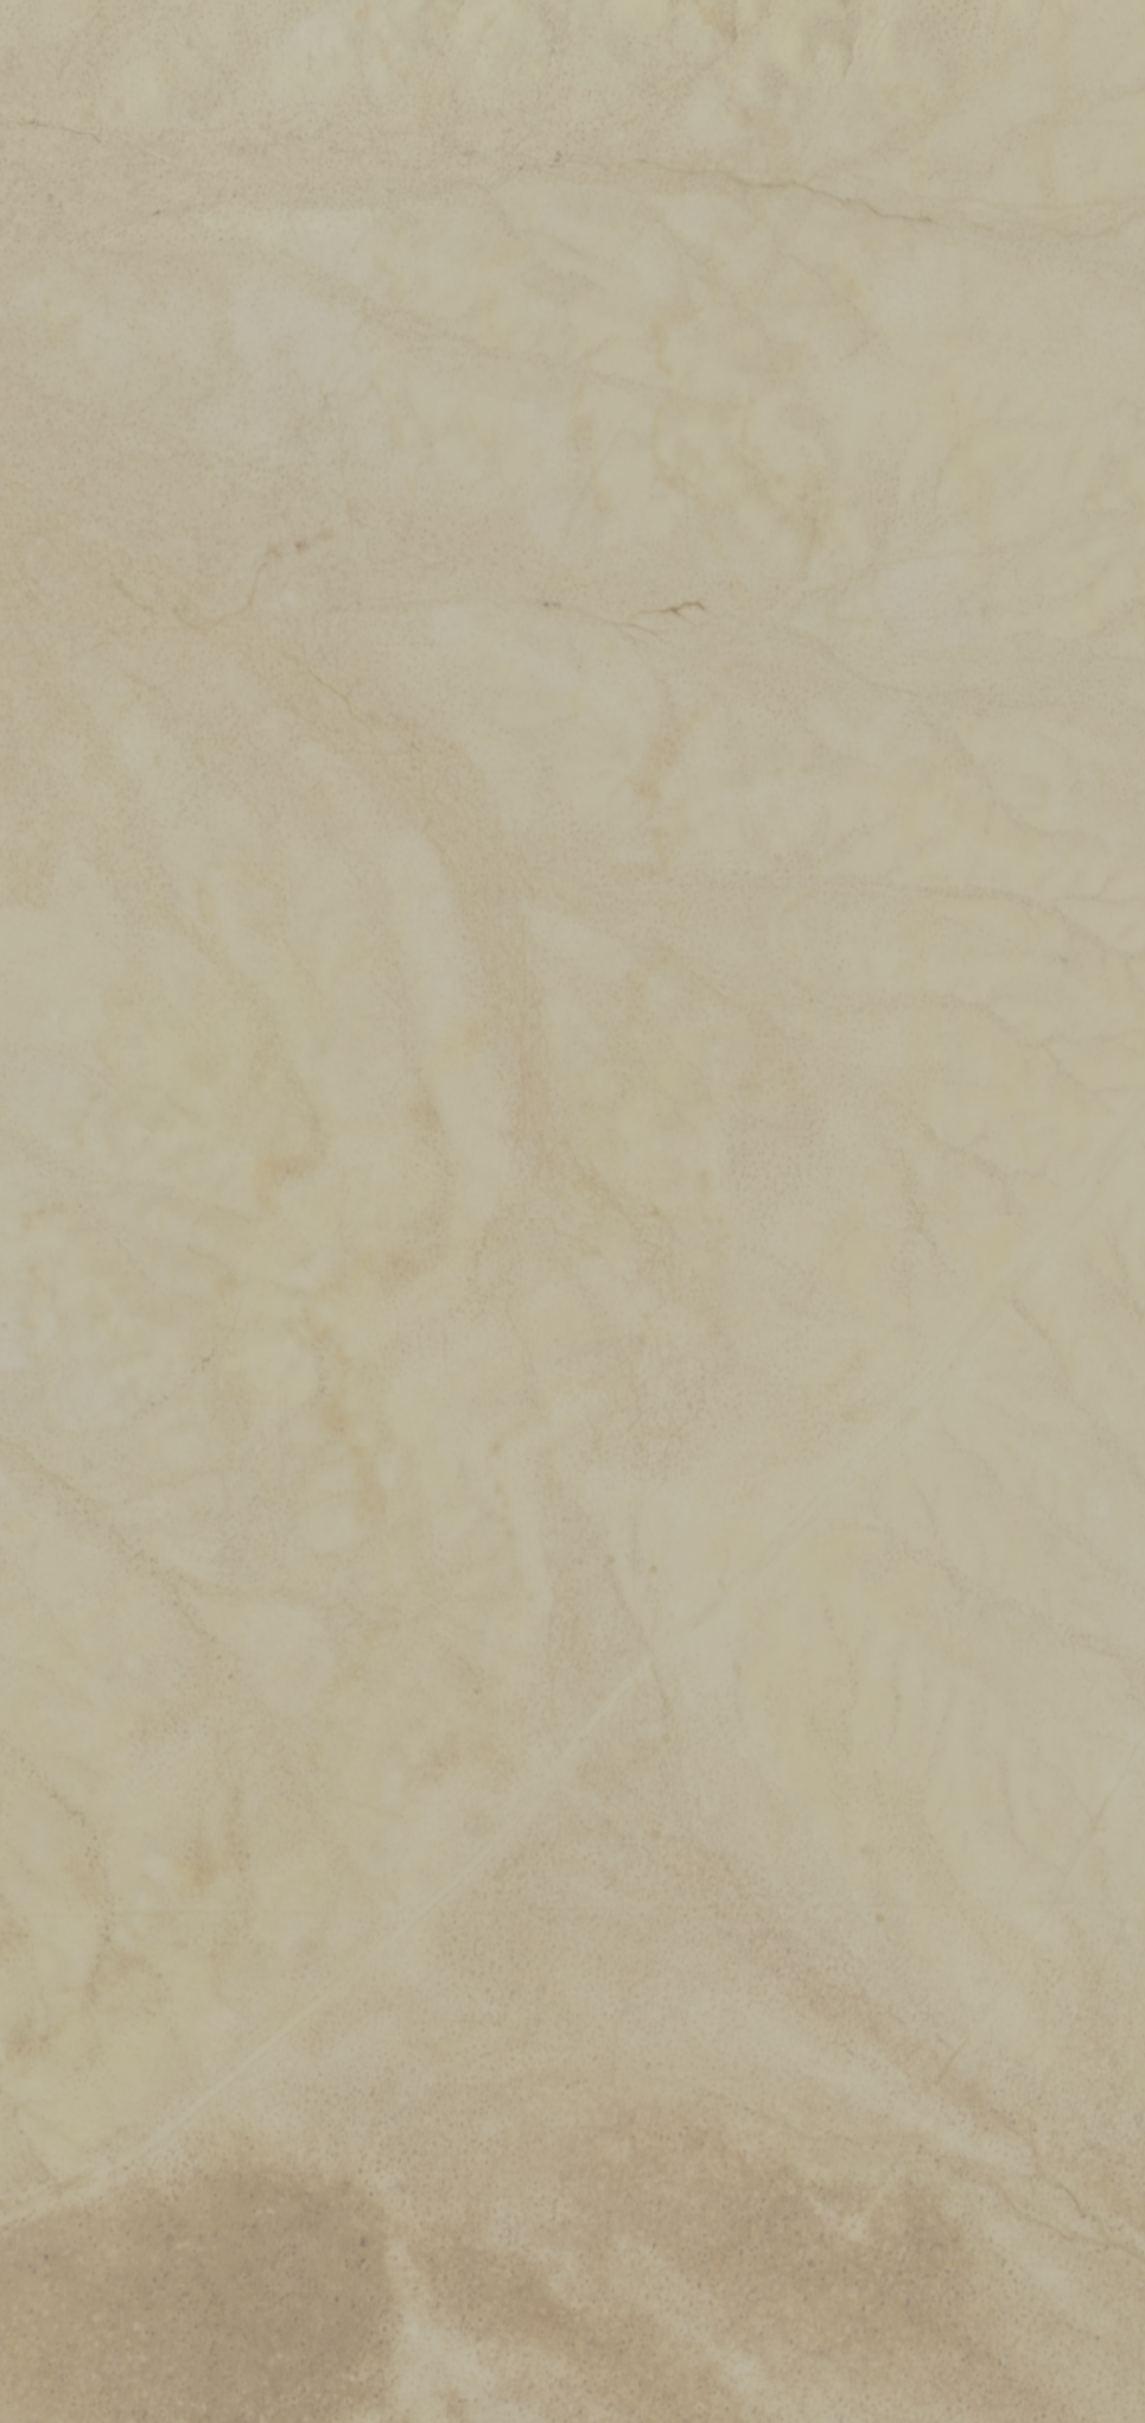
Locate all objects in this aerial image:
road: (393, 567)

